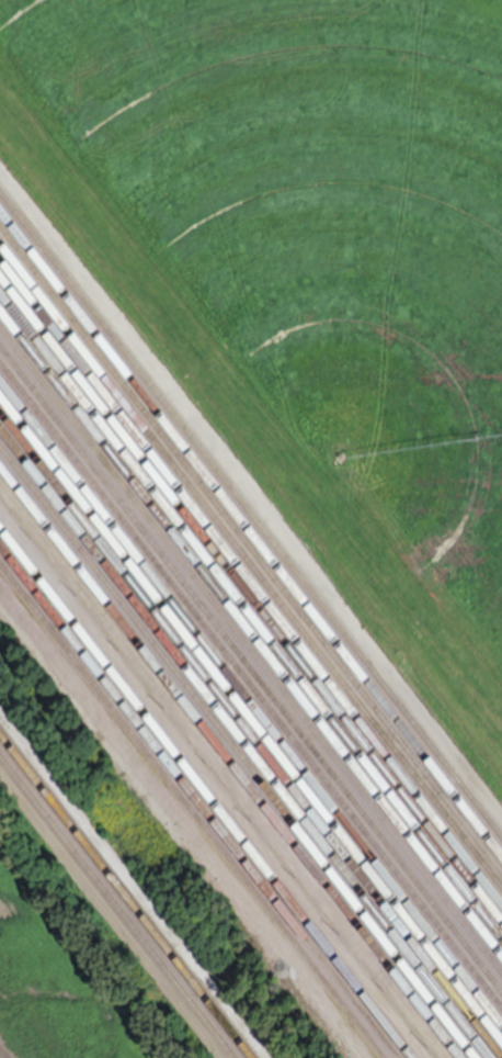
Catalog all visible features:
crop: (311, 267)
road: (251, 496)
railway: (251, 515)
railway: (251, 533)
railway: (251, 550)
railway: (251, 564)
railway: (251, 582)
railway: (251, 596)
railway: (251, 614)
railway: (251, 632)
railway: (251, 651)
railway: (251, 669)
railway: (251, 685)
railway: (251, 701)
railway: (251, 718)
railway: (251, 734)
railway: (244, 743)
railway: (238, 752)
railway: (230, 762)
railway: (206, 792)
railway: (198, 802)
railway: (192, 811)
road: (183, 822)
railway: (126, 896)
railway: (116, 907)
road: (112, 915)
crop: (60, 979)

